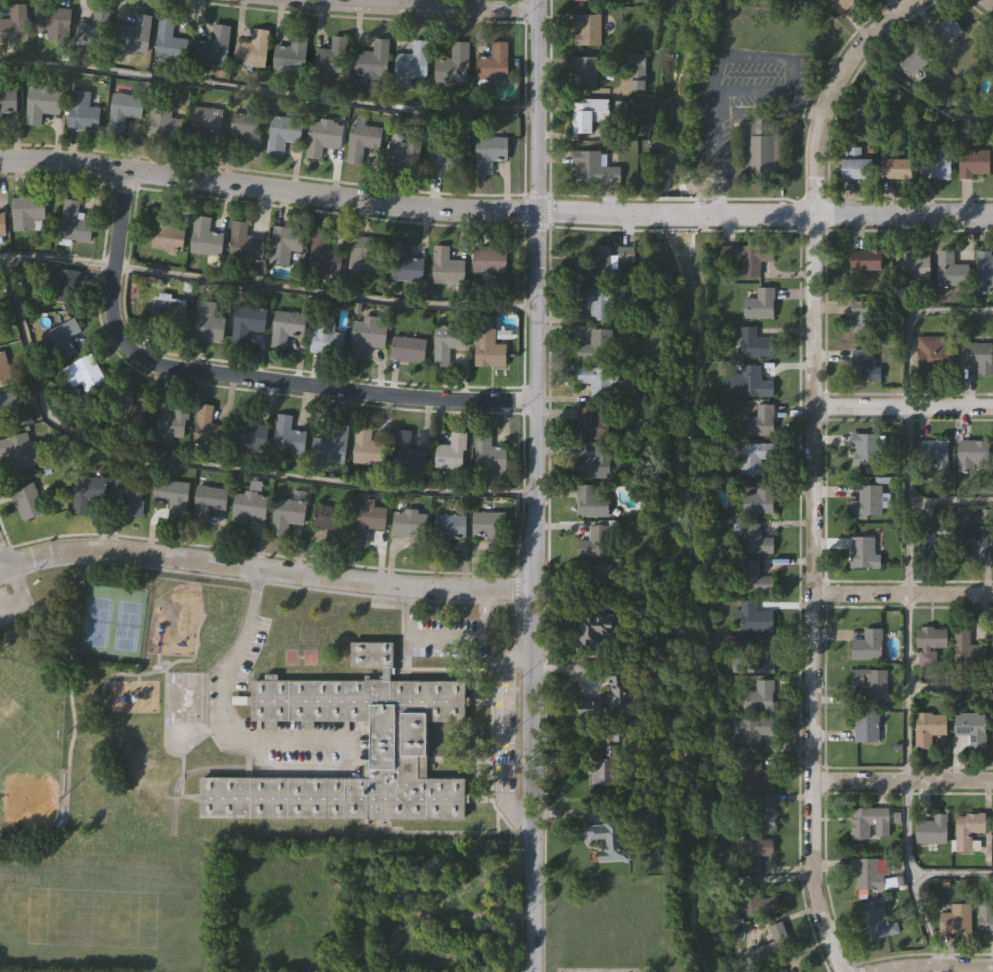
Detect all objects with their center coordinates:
building: (583, 0)
road: (991, 0)
building: (842, 4)
road: (405, 7)
building: (54, 22)
building: (14, 23)
building: (94, 29)
building: (586, 29)
building: (944, 30)
building: (136, 34)
building: (168, 40)
building: (214, 46)
building: (252, 48)
building: (291, 52)
building: (331, 55)
road: (751, 58)
building: (913, 58)
building: (372, 60)
building: (412, 61)
building: (493, 62)
building: (453, 64)
building: (990, 65)
building: (583, 72)
road: (752, 92)
road: (267, 95)
road: (918, 98)
building: (8, 100)
building: (41, 102)
road: (799, 108)
building: (124, 109)
building: (82, 110)
building: (586, 114)
building: (205, 118)
building: (164, 123)
building: (245, 129)
building: (282, 132)
building: (323, 136)
building: (362, 140)
building: (405, 147)
building: (762, 147)
building: (489, 152)
road: (713, 153)
building: (446, 159)
building: (974, 163)
building: (937, 164)
building: (856, 167)
building: (592, 168)
building: (895, 169)
road: (495, 210)
building: (26, 211)
building: (73, 222)
building: (2, 223)
building: (166, 231)
building: (204, 236)
building: (285, 243)
building: (245, 244)
building: (365, 251)
building: (322, 254)
building: (626, 255)
building: (488, 259)
building: (747, 259)
building: (404, 261)
building: (869, 261)
building: (596, 264)
building: (446, 265)
building: (914, 266)
building: (985, 269)
building: (951, 271)
building: (57, 285)
road: (266, 287)
building: (602, 302)
building: (760, 305)
building: (167, 308)
building: (864, 317)
building: (206, 319)
building: (247, 320)
building: (286, 326)
building: (367, 333)
building: (62, 336)
building: (325, 336)
building: (446, 341)
building: (487, 342)
building: (755, 345)
building: (408, 347)
building: (596, 347)
building: (931, 353)
building: (978, 356)
building: (864, 365)
building: (4, 368)
building: (84, 372)
road: (238, 375)
building: (598, 381)
building: (749, 382)
building: (7, 405)
road: (903, 407)
building: (119, 411)
building: (171, 421)
building: (758, 421)
building: (589, 424)
building: (208, 426)
building: (250, 433)
building: (287, 434)
building: (332, 440)
building: (365, 445)
building: (866, 448)
building: (17, 450)
building: (407, 451)
building: (450, 451)
building: (488, 453)
building: (973, 454)
building: (932, 455)
road: (907, 457)
building: (753, 458)
building: (595, 464)
road: (203, 466)
road: (813, 469)
road: (533, 486)
building: (85, 491)
building: (172, 496)
building: (210, 496)
building: (131, 498)
building: (760, 498)
building: (26, 500)
building: (591, 502)
building: (867, 502)
road: (950, 502)
building: (249, 504)
building: (286, 513)
building: (325, 516)
building: (365, 521)
building: (409, 522)
building: (488, 525)
building: (447, 528)
building: (968, 537)
building: (755, 540)
building: (594, 543)
building: (931, 544)
building: (863, 554)
road: (2, 560)
road: (264, 570)
building: (754, 579)
road: (902, 590)
parking lot: (15, 601)
road: (408, 613)
road: (485, 615)
building: (754, 618)
park: (98, 622)
park: (128, 625)
building: (592, 635)
road: (444, 640)
building: (867, 645)
building: (929, 645)
building: (992, 645)
building: (967, 648)
building: (870, 683)
road: (950, 687)
building: (621, 693)
building: (759, 696)
road: (223, 710)
building: (931, 725)
building: (864, 726)
building: (971, 728)
building: (753, 732)
road: (502, 739)
building: (397, 742)
building: (607, 761)
building: (754, 777)
road: (902, 779)
park: (82, 796)
building: (757, 817)
building: (647, 819)
building: (867, 820)
building: (932, 830)
building: (968, 831)
road: (907, 832)
building: (608, 838)
building: (754, 852)
building: (867, 874)
road: (951, 875)
building: (361, 882)
building: (473, 893)
building: (758, 901)
building: (430, 911)
building: (985, 913)
building: (960, 919)
building: (879, 922)
building: (773, 942)
road: (946, 968)
building: (778, 970)

